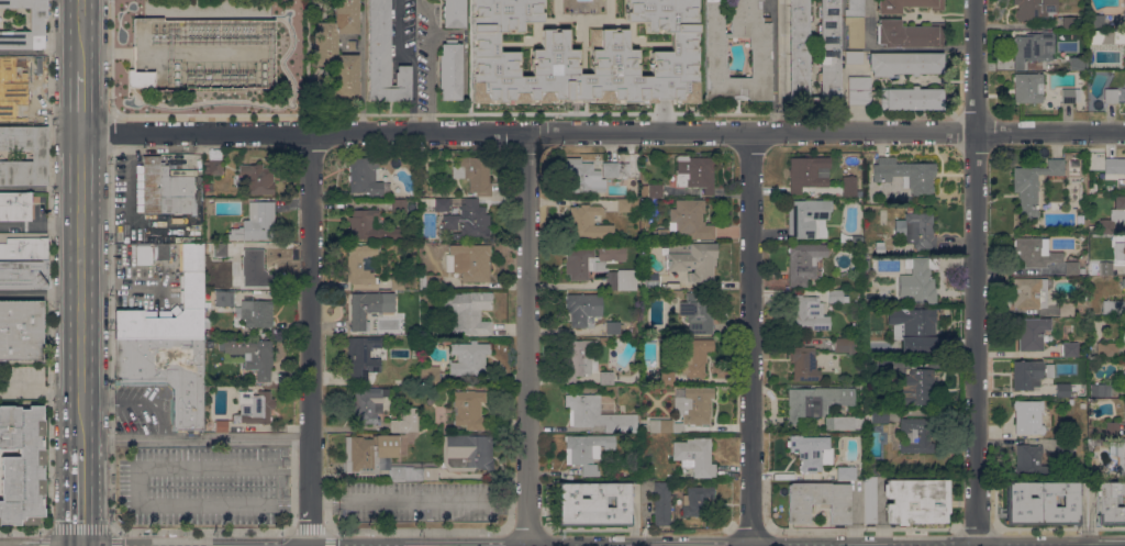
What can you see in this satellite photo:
building: (906, 4)
building: (855, 9)
building: (1035, 10)
building: (453, 13)
building: (1124, 14)
building: (1096, 20)
building: (1073, 22)
building: (37, 24)
building: (855, 32)
road: (80, 34)
building: (909, 34)
building: (1106, 36)
building: (325, 43)
building: (352, 44)
building: (1031, 47)
building: (799, 48)
power substation: (202, 49)
building: (554, 51)
road: (41, 52)
building: (383, 56)
building: (853, 57)
building: (1124, 57)
building: (759, 58)
building: (904, 63)
building: (1077, 63)
road: (428, 69)
building: (450, 70)
building: (141, 78)
road: (780, 78)
building: (41, 83)
building: (1028, 87)
building: (859, 90)
building: (1070, 94)
building: (1111, 96)
building: (911, 98)
road: (81, 101)
building: (1092, 107)
road: (602, 131)
building: (40, 155)
building: (213, 164)
building: (1113, 167)
building: (614, 169)
building: (695, 172)
building: (802, 172)
building: (827, 172)
building: (474, 174)
building: (905, 174)
building: (423, 176)
building: (366, 177)
building: (582, 177)
building: (256, 179)
building: (1032, 185)
building: (166, 189)
building: (651, 190)
building: (848, 190)
building: (398, 204)
building: (441, 204)
building: (623, 204)
building: (1120, 204)
building: (15, 205)
building: (651, 208)
building: (909, 209)
building: (805, 216)
building: (467, 221)
building: (687, 221)
building: (256, 222)
building: (586, 223)
road: (41, 225)
building: (367, 225)
building: (1106, 226)
building: (916, 230)
building: (23, 245)
building: (879, 247)
building: (220, 249)
building: (1120, 250)
building: (1035, 252)
building: (151, 253)
building: (691, 259)
building: (470, 261)
building: (803, 261)
building: (360, 264)
building: (253, 268)
building: (1071, 268)
building: (1101, 268)
building: (597, 269)
building: (1081, 270)
road: (974, 272)
building: (24, 275)
building: (922, 279)
building: (650, 280)
road: (123, 281)
building: (397, 281)
building: (430, 282)
building: (1123, 282)
building: (882, 289)
road: (81, 290)
building: (192, 290)
building: (1029, 292)
building: (677, 293)
road: (41, 294)
building: (858, 294)
building: (835, 296)
building: (224, 298)
building: (1113, 307)
building: (368, 308)
building: (582, 308)
building: (1066, 309)
building: (256, 312)
building: (468, 312)
building: (698, 312)
building: (809, 313)
building: (207, 323)
building: (612, 328)
building: (913, 328)
building: (21, 330)
building: (1032, 333)
building: (656, 335)
road: (527, 338)
road: (750, 338)
road: (310, 339)
building: (846, 345)
building: (1070, 349)
building: (1107, 349)
building: (250, 355)
building: (693, 356)
building: (361, 357)
building: (468, 358)
building: (579, 358)
building: (803, 364)
building: (884, 366)
building: (167, 372)
building: (430, 375)
building: (1029, 375)
building: (667, 377)
building: (606, 378)
building: (917, 387)
building: (1101, 389)
building: (1067, 390)
building: (616, 394)
building: (430, 401)
building: (815, 401)
road: (135, 403)
building: (367, 405)
building: (254, 406)
building: (470, 410)
building: (687, 410)
building: (1124, 412)
building: (597, 414)
building: (879, 415)
building: (1028, 416)
building: (405, 421)
building: (843, 422)
building: (221, 425)
building: (643, 427)
building: (1112, 427)
building: (916, 435)
road: (194, 438)
building: (1092, 442)
building: (1065, 446)
building: (586, 447)
building: (467, 452)
building: (811, 452)
building: (694, 456)
building: (377, 458)
building: (1124, 460)
building: (1032, 461)
building: (22, 465)
road: (209, 466)
road: (296, 466)
building: (876, 470)
building: (427, 471)
building: (846, 472)
parking lot: (199, 484)
road: (135, 487)
road: (81, 497)
road: (419, 497)
parking lot: (410, 499)
building: (697, 500)
building: (869, 500)
building: (817, 501)
building: (915, 501)
building: (661, 503)
building: (1042, 503)
building: (1110, 503)
building: (594, 504)
road: (294, 506)
road: (208, 508)
road: (318, 528)
road: (78, 531)

